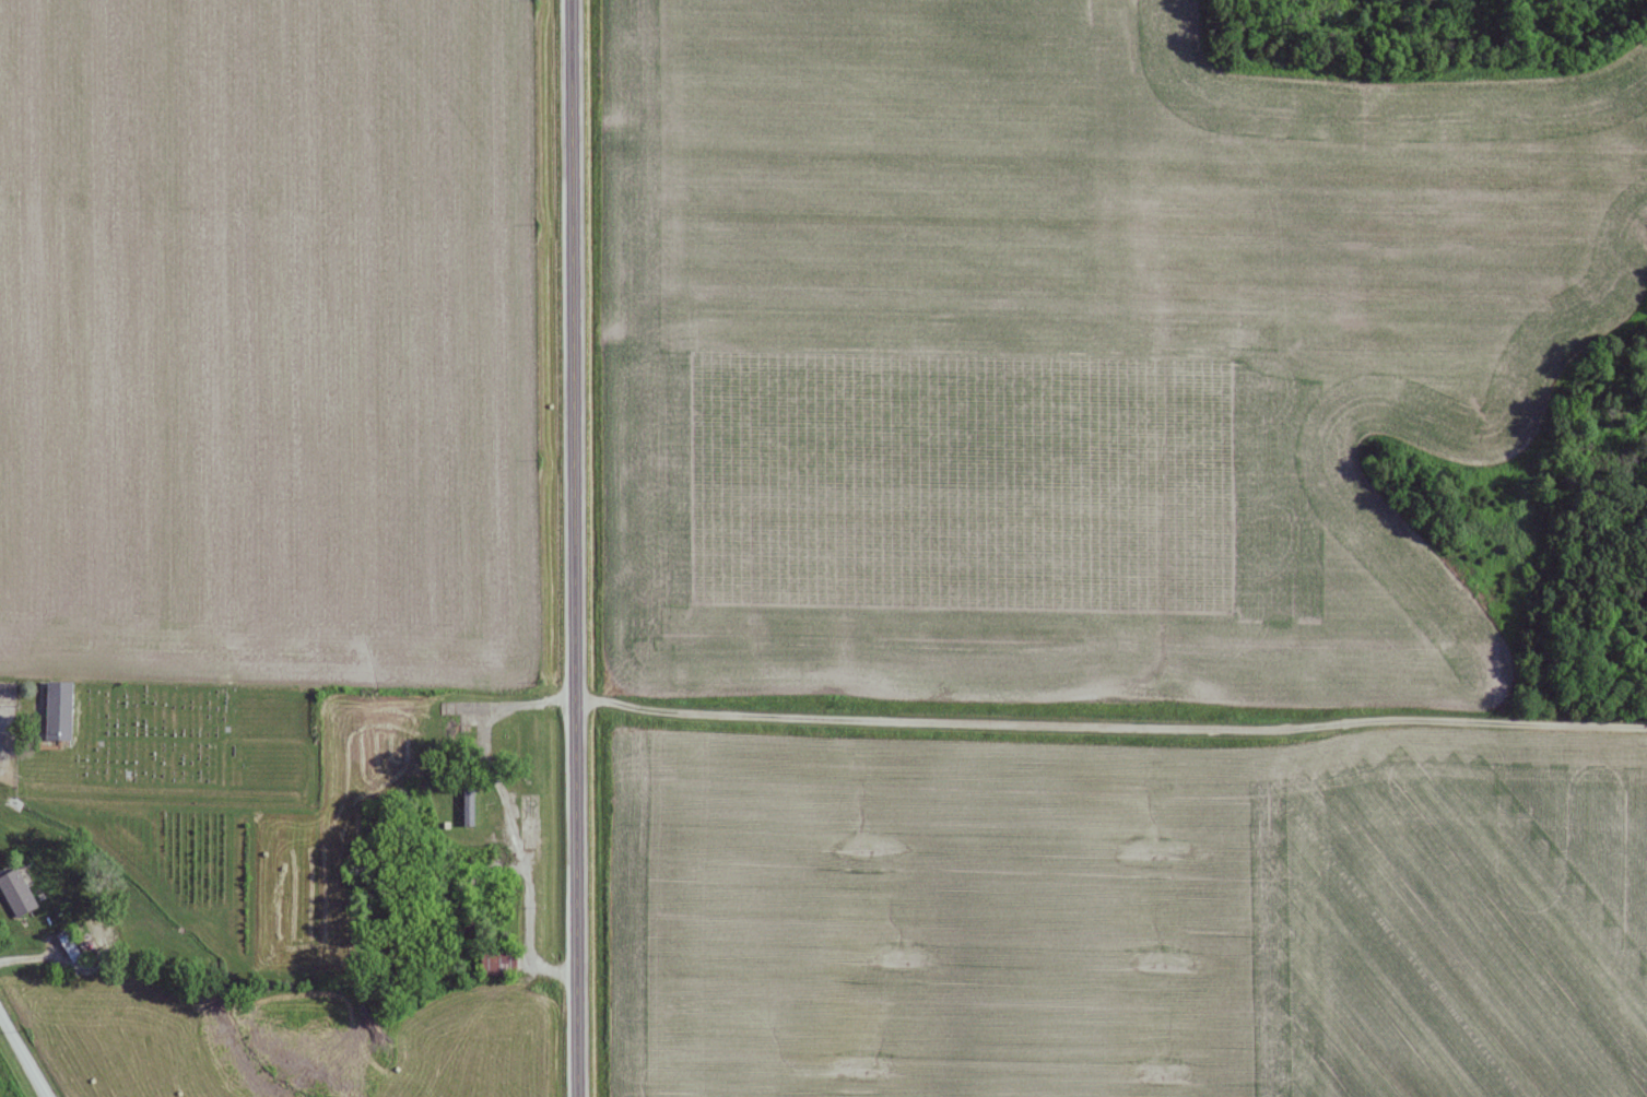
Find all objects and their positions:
road: (574, 548)
building: (58, 709)
building: (15, 890)
building: (68, 943)
road: (23, 1053)

